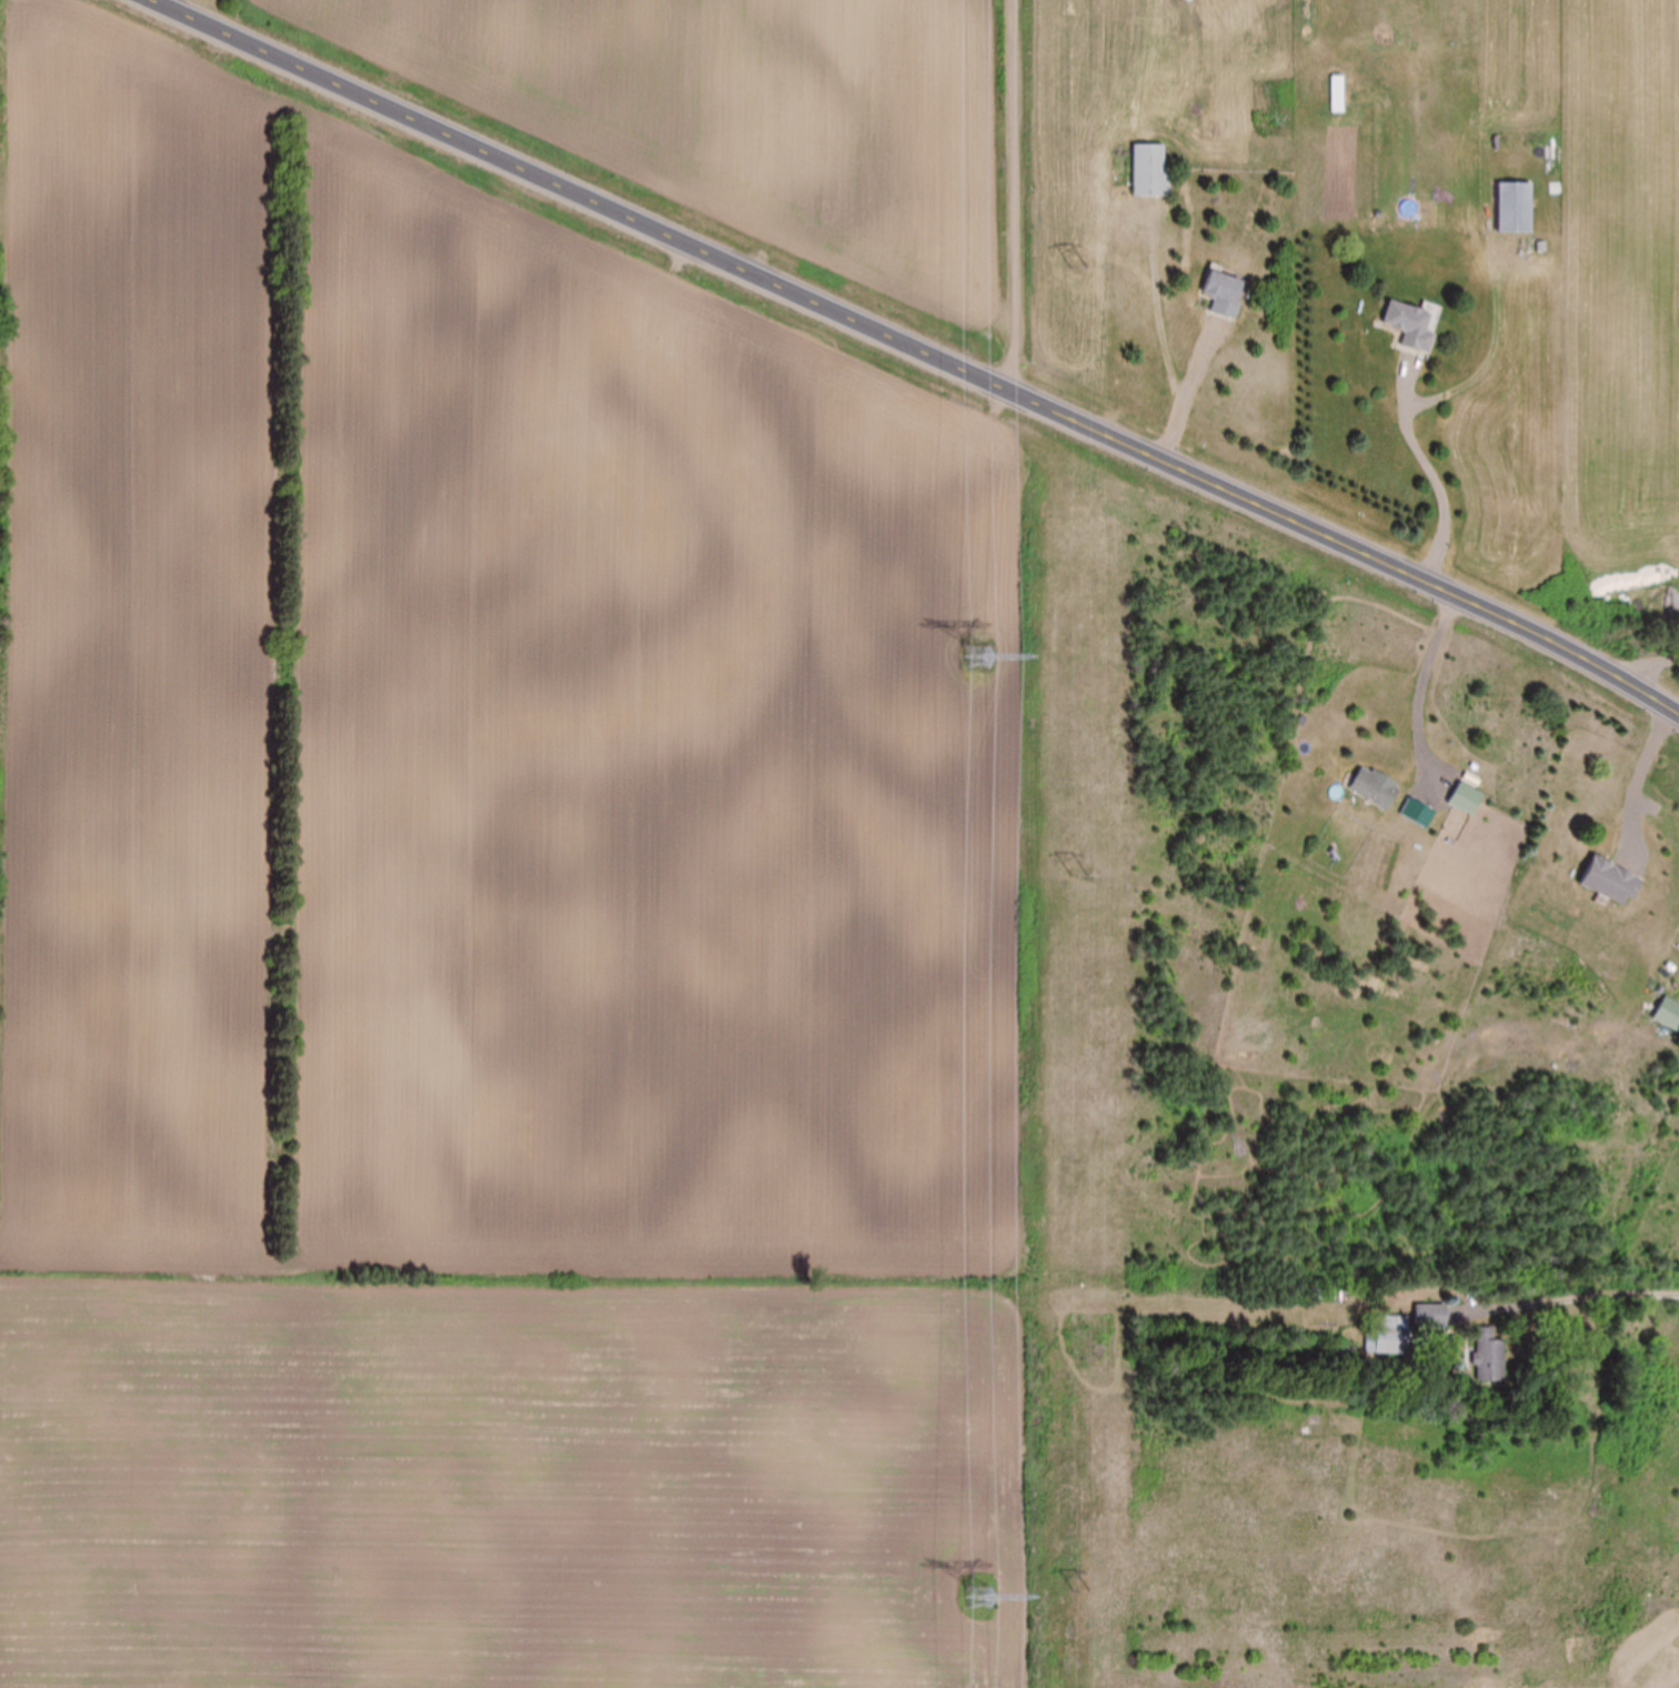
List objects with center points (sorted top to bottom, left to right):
building: (1337, 93)
building: (1150, 171)
road: (1056, 204)
building: (1515, 208)
power tower: (1084, 270)
building: (1225, 294)
building: (1411, 325)
road: (923, 348)
road: (1437, 483)
power tower: (977, 650)
road: (1646, 651)
road: (1428, 682)
building: (1375, 787)
building: (1466, 798)
power tower: (1084, 875)
building: (1611, 882)
building: (1668, 1016)
road: (1669, 1297)
building: (1431, 1316)
building: (1386, 1335)
building: (1489, 1356)
power tower: (1083, 1592)
power tower: (978, 1594)

